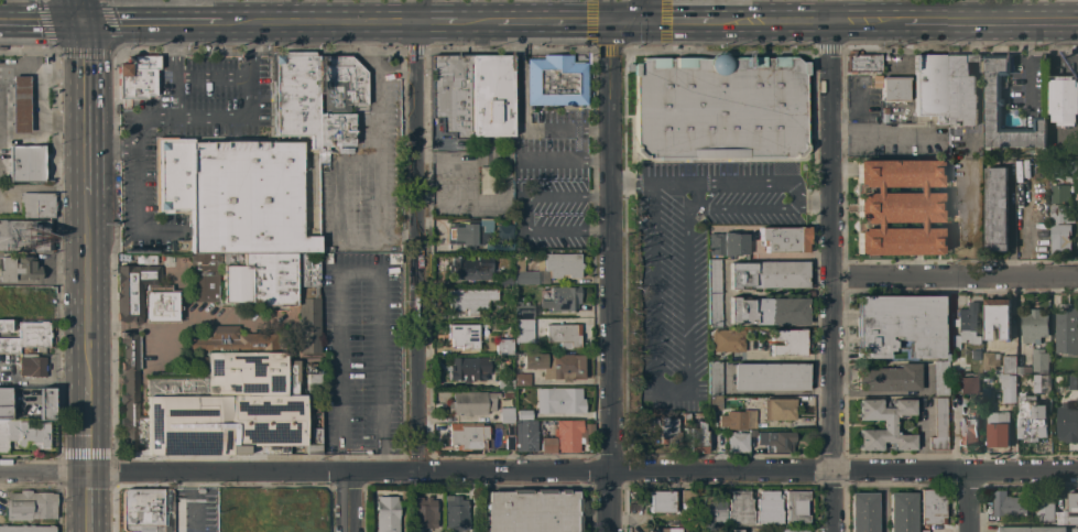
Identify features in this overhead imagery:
road: (79, 9)
road: (176, 9)
road: (250, 9)
road: (378, 10)
road: (508, 10)
road: (650, 10)
road: (41, 18)
traffic signals: (83, 18)
road: (150, 18)
road: (316, 19)
road: (434, 20)
road: (477, 20)
road: (990, 20)
road: (555, 21)
traffic signals: (586, 21)
road: (630, 21)
traffic signals: (671, 21)
road: (680, 21)
road: (771, 21)
road: (865, 22)
road: (176, 36)
road: (250, 36)
road: (518, 37)
road: (973, 37)
road: (369, 48)
traffic signals: (611, 56)
road: (973, 58)
building: (862, 63)
road: (176, 65)
road: (41, 69)
building: (137, 76)
road: (189, 76)
building: (555, 82)
building: (340, 83)
building: (930, 87)
building: (893, 88)
building: (962, 90)
building: (450, 94)
building: (294, 95)
building: (491, 96)
building: (1064, 99)
building: (994, 101)
building: (17, 102)
road: (83, 107)
building: (718, 107)
road: (155, 122)
road: (519, 127)
building: (334, 131)
road: (600, 131)
road: (972, 134)
parking lot: (186, 135)
road: (41, 140)
road: (830, 148)
road: (101, 149)
road: (128, 149)
building: (1066, 149)
road: (380, 153)
road: (540, 160)
road: (599, 161)
building: (23, 162)
building: (1064, 167)
building: (172, 174)
building: (482, 180)
road: (814, 180)
road: (726, 181)
road: (632, 182)
building: (1059, 193)
road: (599, 197)
building: (247, 198)
building: (37, 205)
road: (337, 206)
building: (896, 207)
building: (997, 208)
road: (747, 211)
road: (819, 211)
road: (524, 216)
road: (1027, 218)
building: (1060, 227)
building: (468, 232)
building: (24, 235)
road: (599, 235)
road: (406, 236)
building: (784, 239)
road: (416, 245)
building: (728, 245)
building: (470, 268)
building: (18, 269)
building: (546, 269)
road: (357, 273)
building: (767, 274)
road: (955, 274)
building: (204, 276)
road: (611, 276)
building: (504, 281)
building: (276, 286)
building: (132, 290)
road: (84, 291)
building: (711, 291)
building: (562, 298)
building: (21, 300)
building: (469, 300)
building: (161, 304)
building: (522, 311)
building: (767, 311)
building: (997, 317)
building: (897, 325)
building: (965, 325)
building: (1034, 325)
building: (4, 326)
road: (181, 326)
building: (525, 328)
building: (1067, 329)
building: (563, 335)
building: (462, 336)
building: (26, 337)
building: (727, 340)
building: (787, 343)
building: (503, 344)
parking lot: (359, 352)
building: (976, 354)
building: (1041, 359)
building: (999, 362)
building: (1021, 362)
building: (556, 365)
building: (30, 366)
building: (475, 372)
building: (952, 376)
building: (769, 377)
building: (889, 378)
building: (939, 378)
building: (522, 379)
building: (714, 379)
building: (1074, 381)
building: (1038, 382)
building: (968, 386)
building: (1008, 388)
building: (312, 391)
building: (507, 394)
road: (671, 395)
building: (215, 399)
building: (558, 400)
building: (4, 403)
building: (471, 403)
road: (832, 403)
building: (44, 404)
building: (778, 409)
building: (733, 411)
building: (505, 415)
building: (1031, 419)
building: (685, 420)
building: (547, 422)
building: (1067, 422)
building: (938, 424)
building: (884, 425)
building: (968, 428)
building: (998, 428)
road: (85, 430)
building: (661, 430)
building: (752, 433)
building: (24, 435)
building: (314, 435)
building: (467, 436)
building: (524, 436)
building: (564, 437)
building: (697, 438)
building: (508, 439)
building: (714, 441)
building: (776, 441)
building: (737, 442)
building: (762, 448)
road: (384, 457)
road: (338, 458)
road: (538, 469)
road: (190, 484)
building: (685, 499)
road: (969, 500)
building: (660, 501)
road: (349, 502)
road: (86, 503)
building: (1008, 504)
building: (30, 506)
building: (932, 506)
building: (739, 507)
building: (767, 507)
building: (796, 508)
building: (1045, 508)
building: (294, 509)
building: (146, 510)
building: (1069, 510)
building: (531, 511)
building: (233, 512)
building: (712, 512)
building: (863, 512)
building: (901, 512)
road: (190, 513)
building: (386, 513)
building: (422, 513)
building: (455, 513)
building: (257, 517)
building: (26, 528)
building: (268, 529)
building: (672, 529)
building: (1033, 529)
building: (734, 530)
building: (791, 530)
building: (924, 531)

